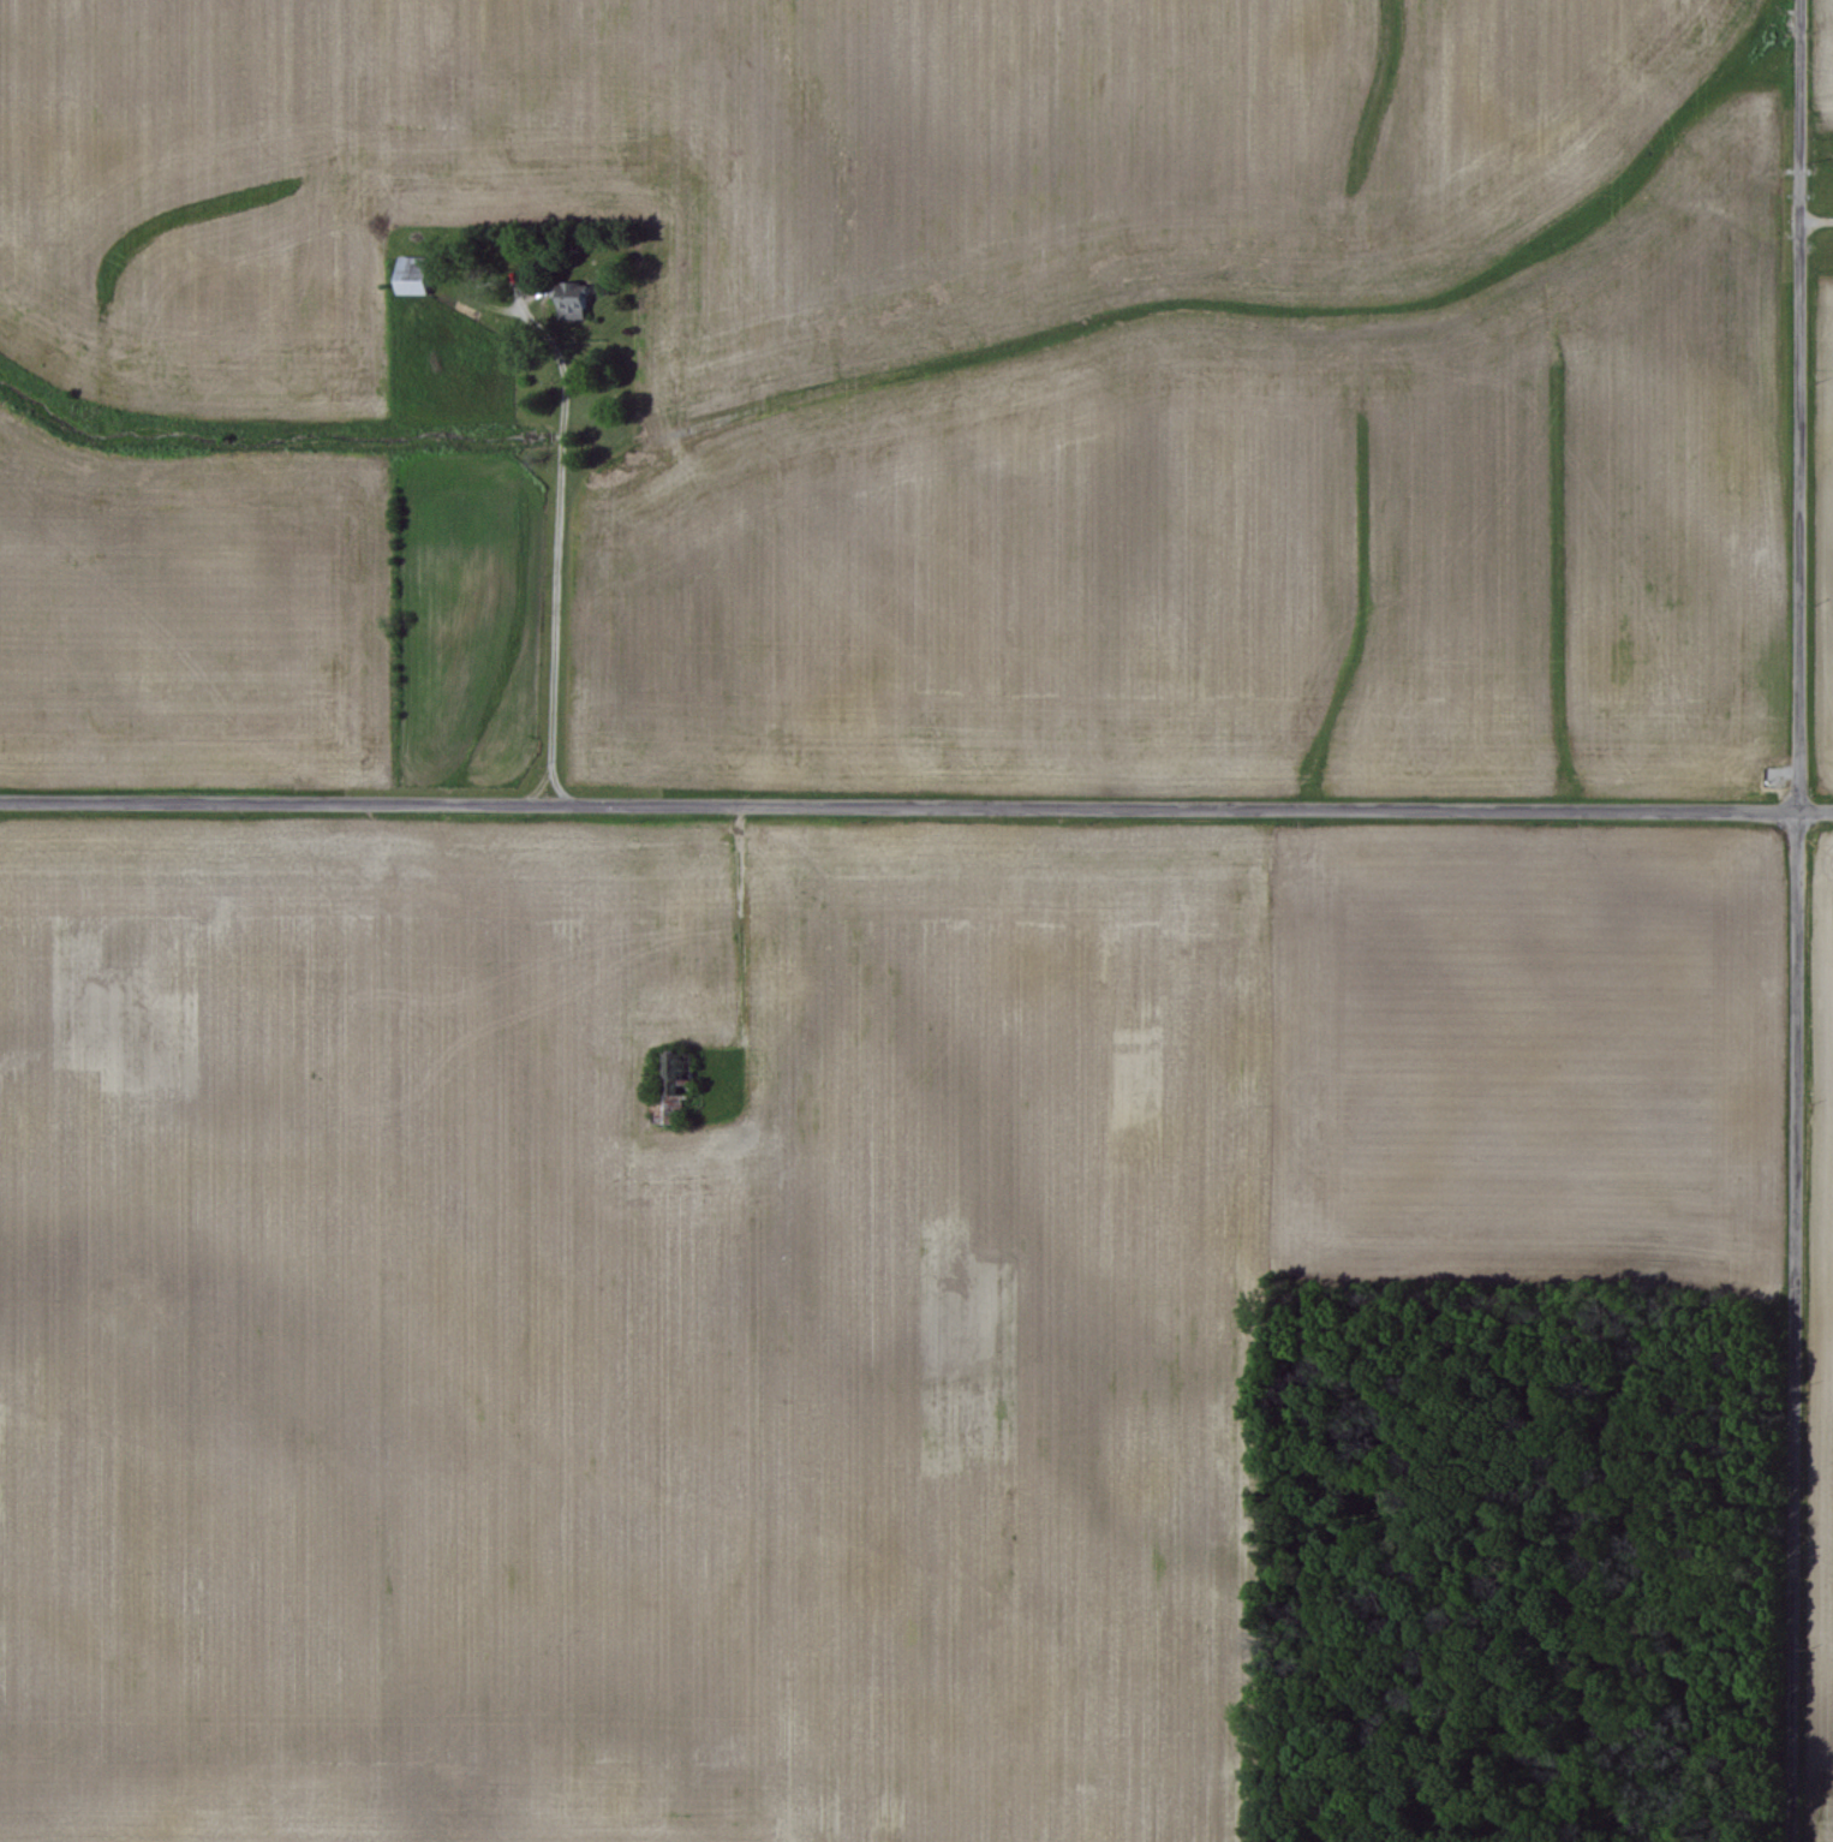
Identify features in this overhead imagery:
road: (1815, 222)
building: (565, 291)
road: (560, 556)
road: (557, 785)
road: (915, 809)
road: (1797, 920)
road: (740, 923)

